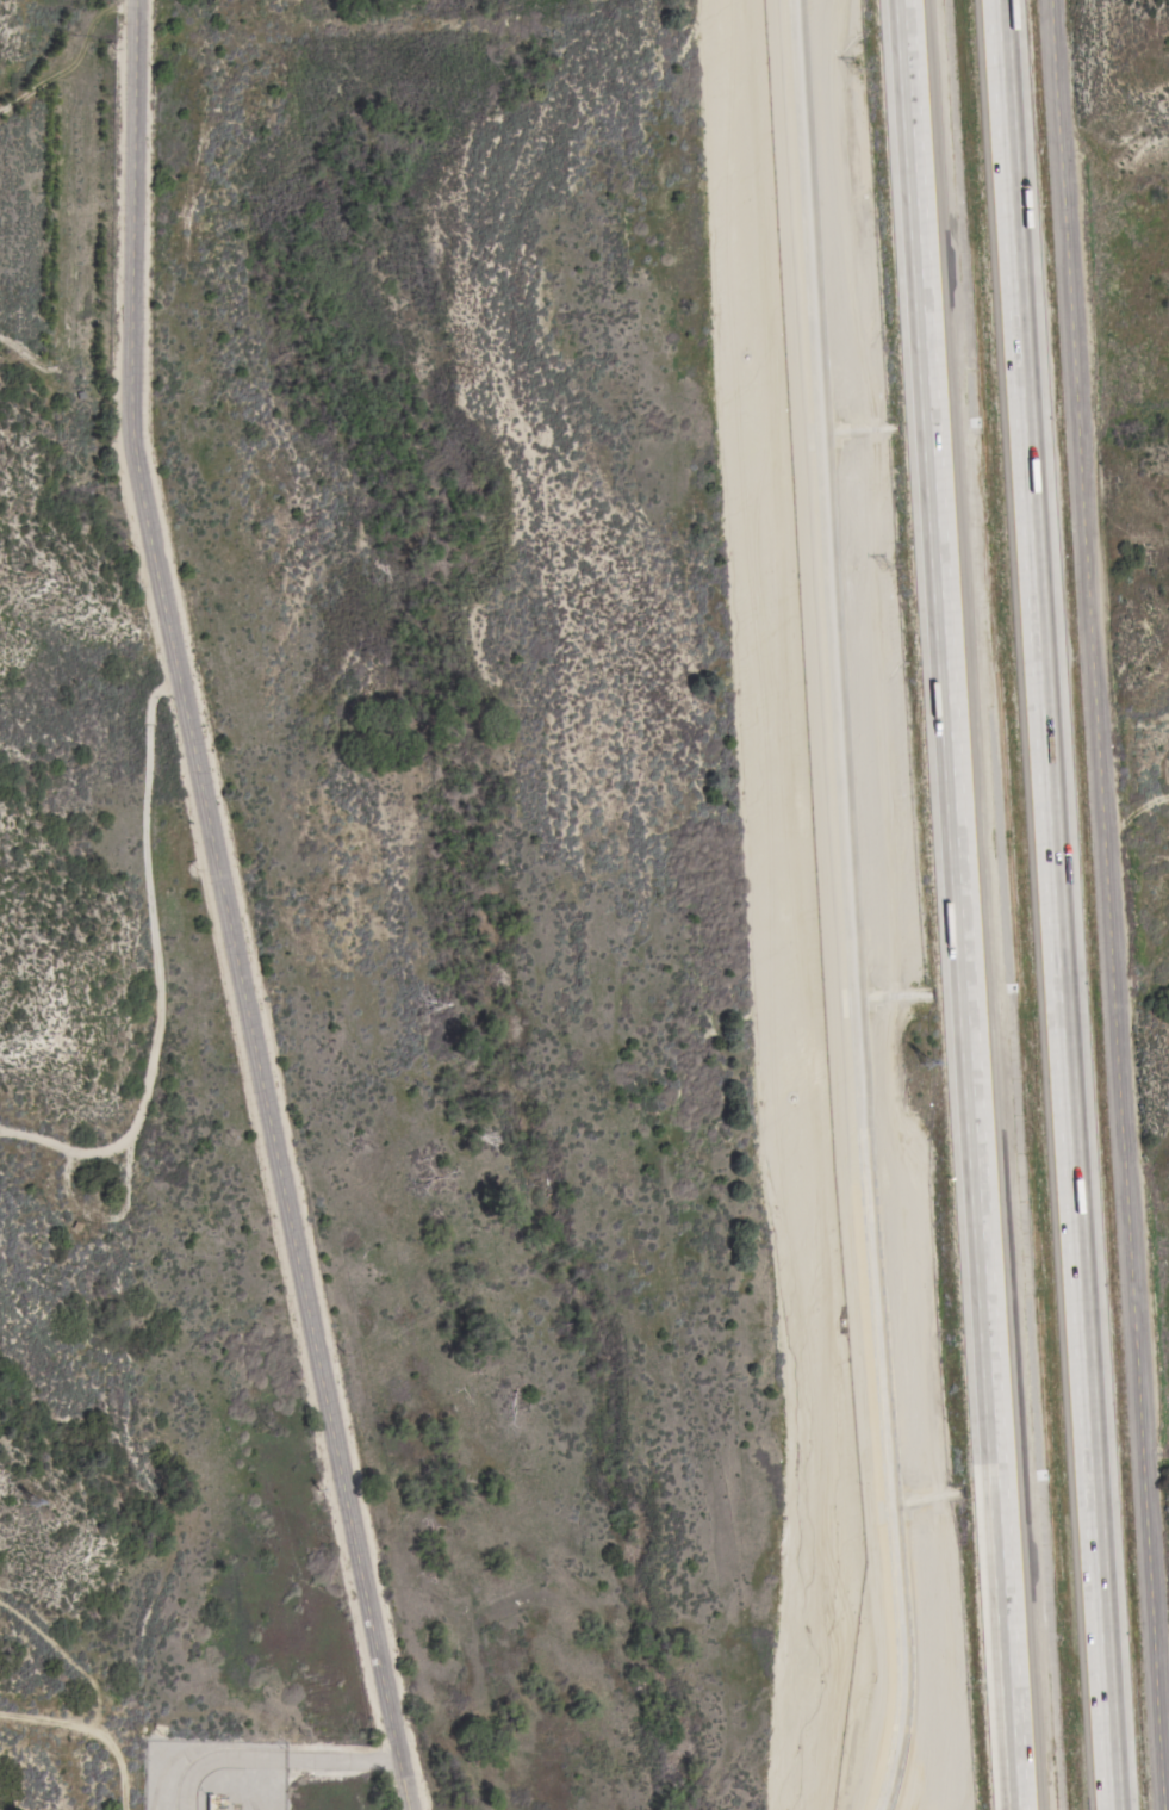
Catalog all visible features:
power tower: (858, 76)
power tower: (888, 575)
road: (960, 905)
road: (1056, 905)
road: (1111, 905)
road: (229, 909)
power tower: (927, 1054)
road: (69, 1147)
road: (126, 1239)
power tower: (31, 1502)
road: (74, 1727)
road: (318, 1761)

